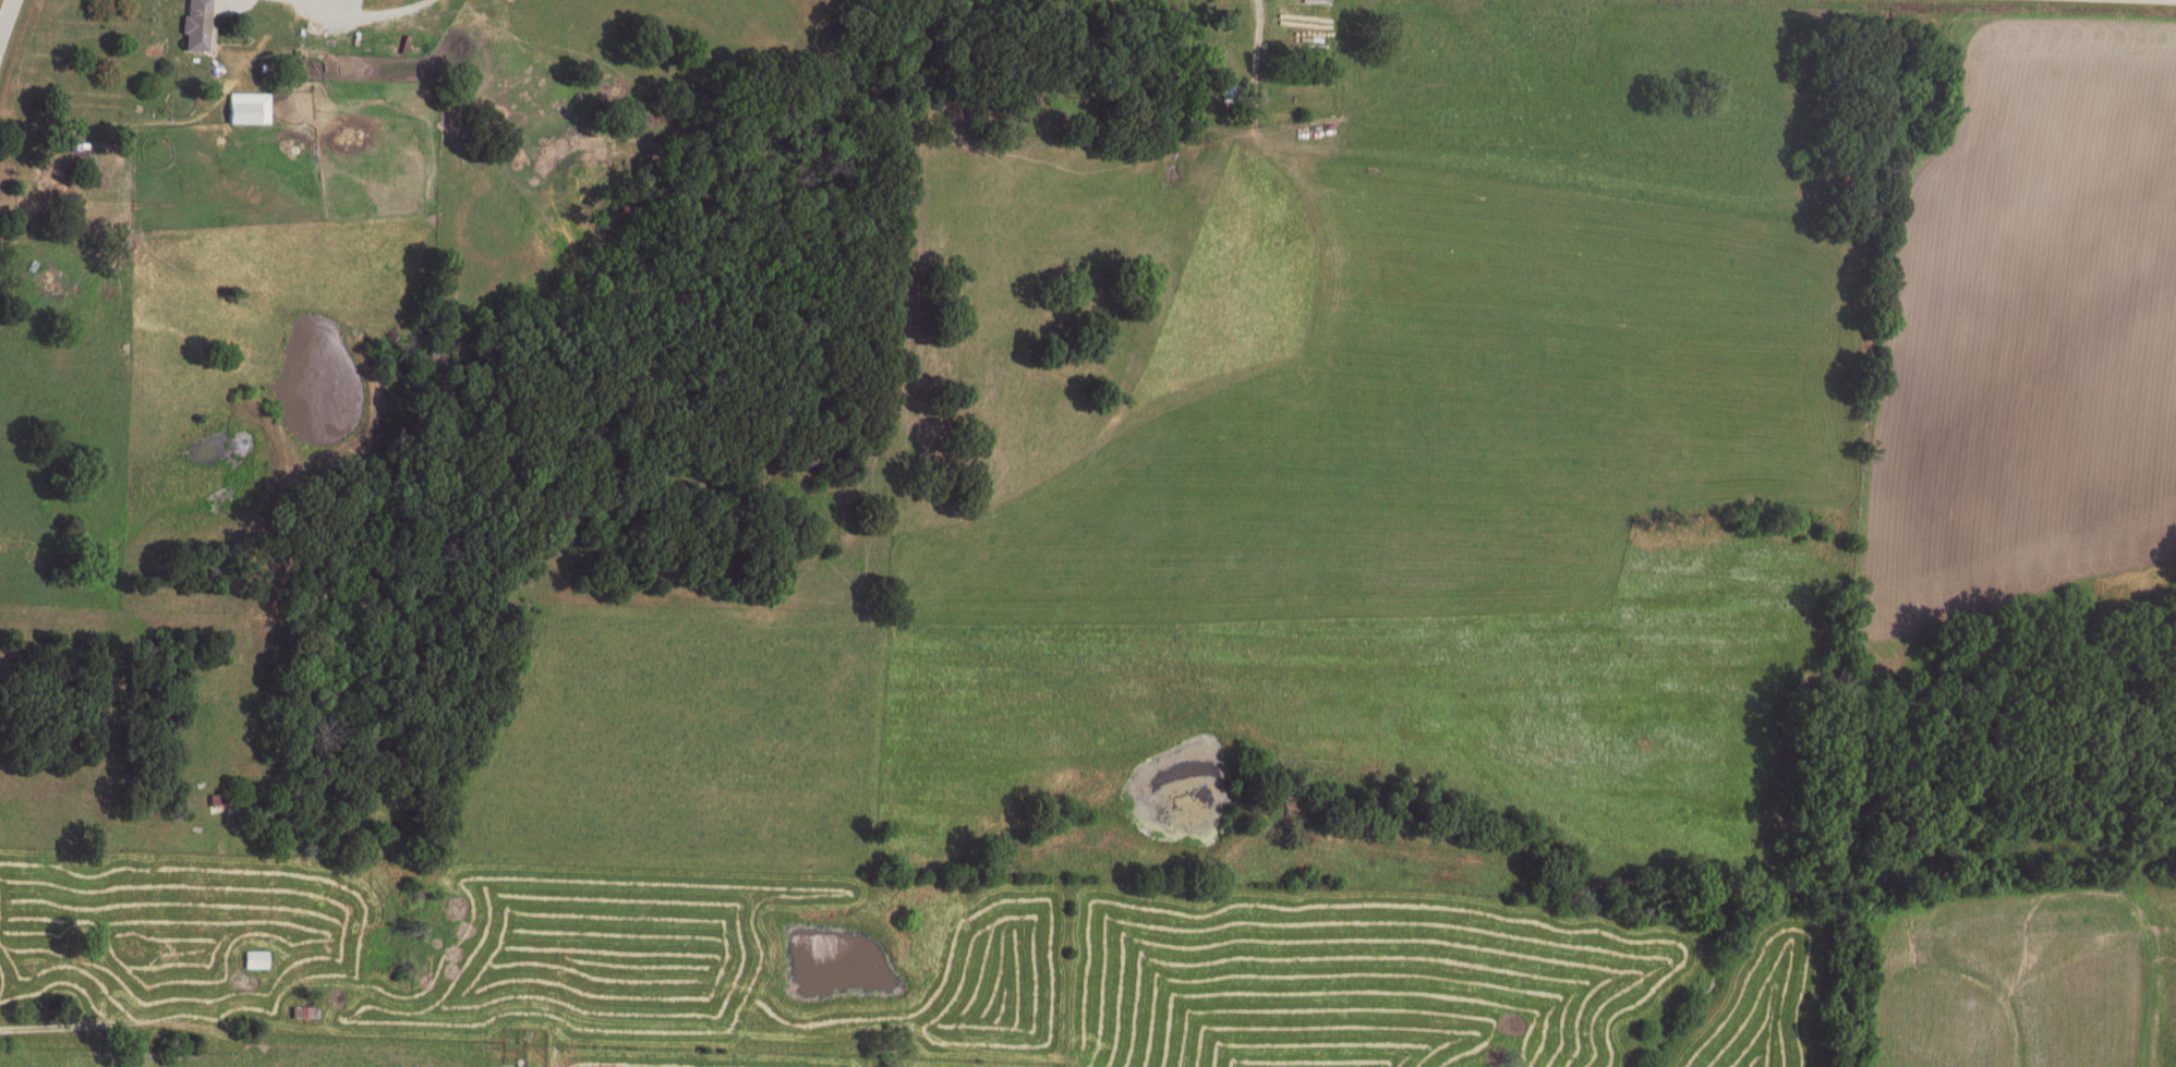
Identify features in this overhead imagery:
road: (5, 14)
building: (195, 24)
building: (247, 105)
road: (120, 1022)

